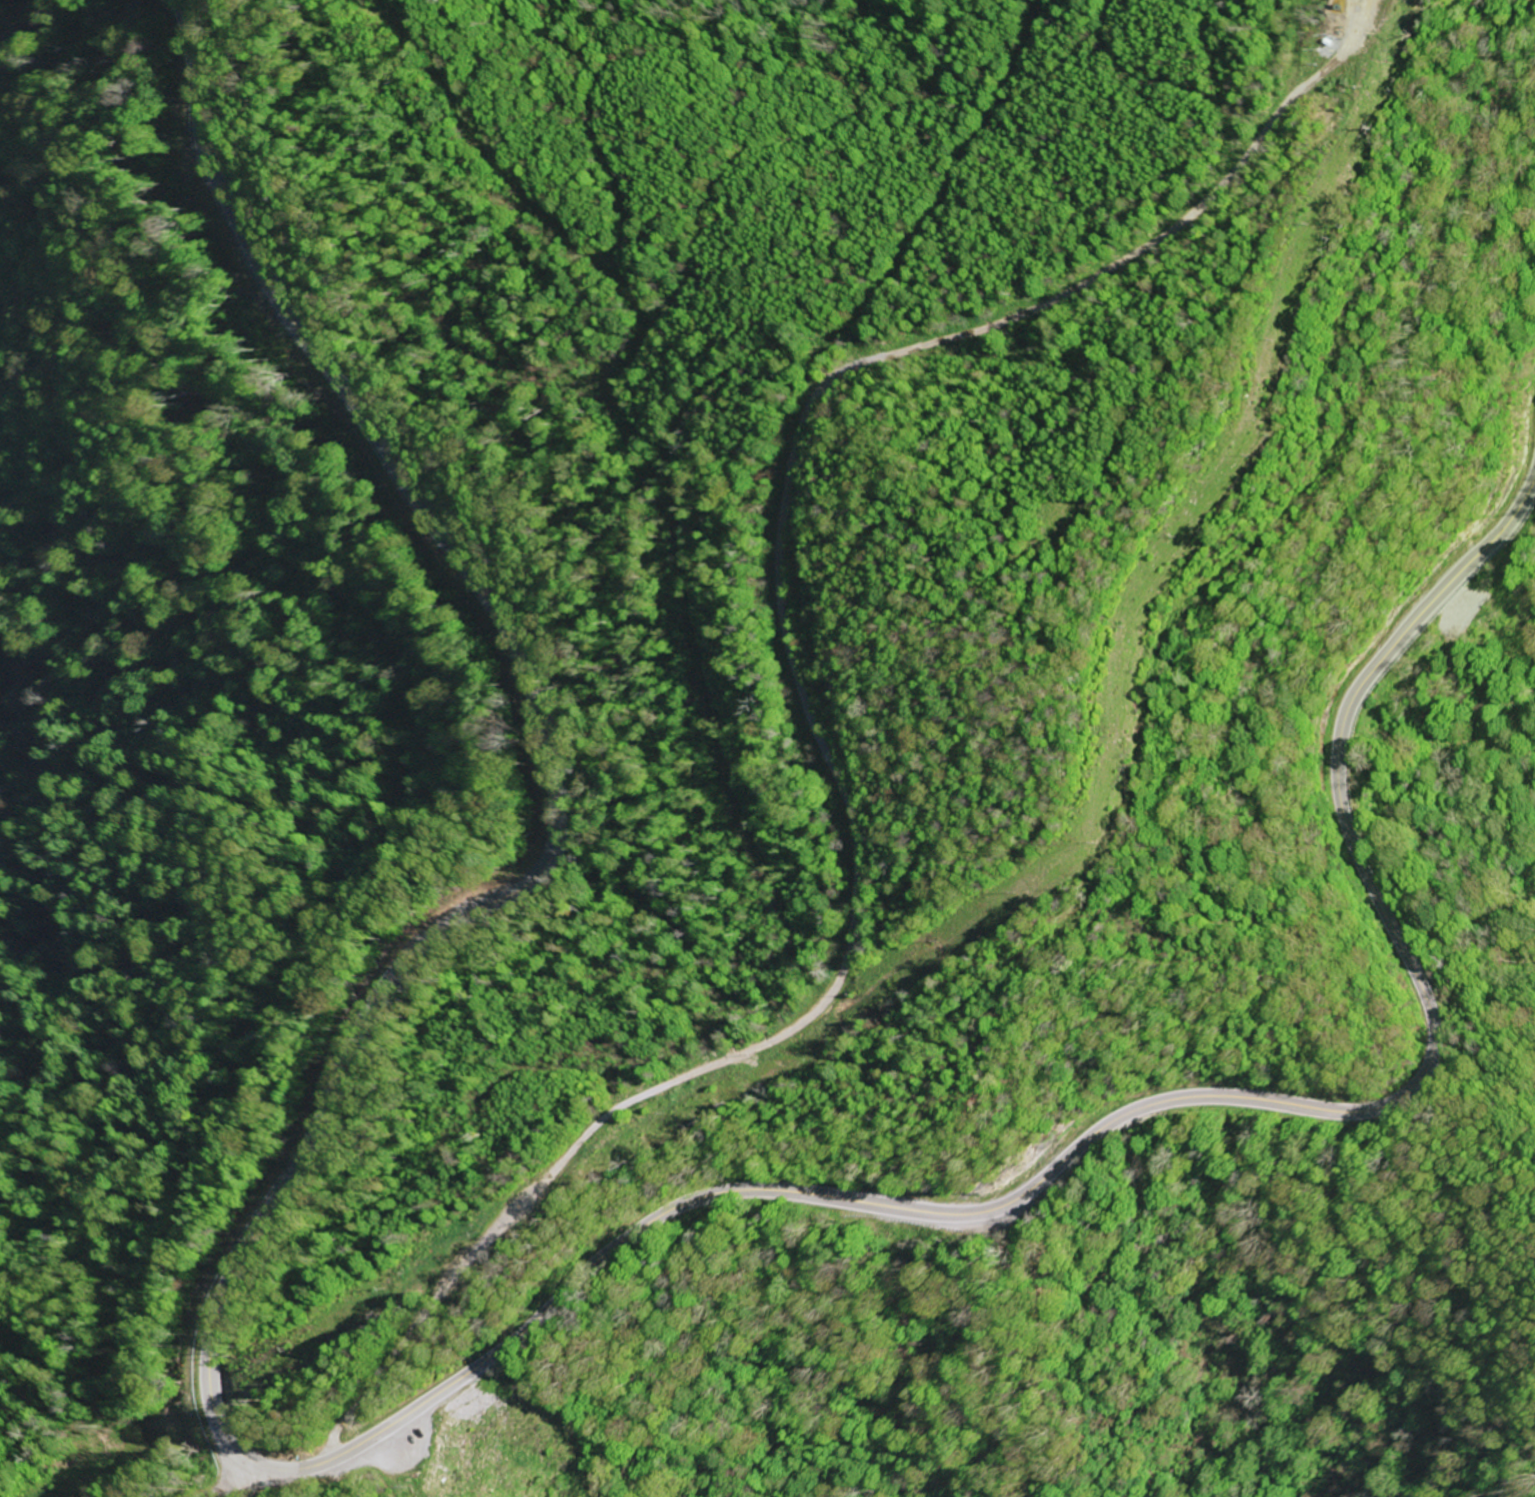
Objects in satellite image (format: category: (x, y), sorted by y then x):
road: (884, 385)
road: (866, 721)
road: (556, 789)
road: (1156, 1102)
road: (537, 1181)
road: (240, 1477)
road: (222, 1482)

